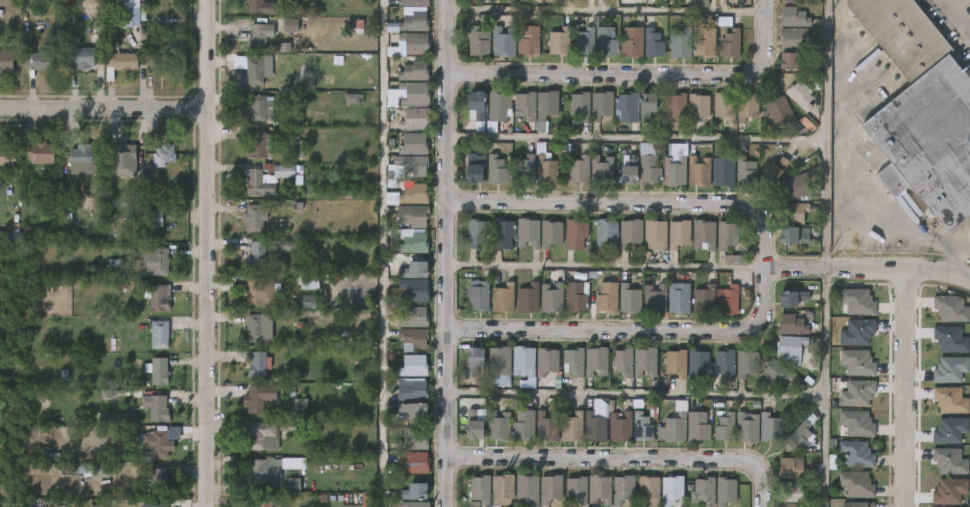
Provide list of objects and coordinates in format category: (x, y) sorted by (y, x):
building: (90, 1)
building: (796, 1)
building: (415, 3)
building: (699, 3)
building: (258, 7)
road: (606, 9)
building: (128, 17)
road: (955, 17)
building: (793, 18)
building: (416, 23)
building: (290, 25)
building: (900, 33)
building: (259, 36)
building: (790, 37)
building: (588, 38)
building: (531, 39)
building: (609, 40)
building: (481, 41)
building: (506, 41)
building: (563, 41)
building: (635, 41)
building: (656, 42)
building: (707, 42)
building: (733, 42)
building: (417, 43)
building: (683, 43)
building: (282, 47)
building: (164, 52)
building: (83, 57)
building: (119, 60)
building: (6, 61)
building: (44, 61)
building: (789, 61)
building: (253, 68)
building: (414, 71)
road: (639, 73)
building: (411, 94)
building: (798, 95)
building: (353, 98)
building: (524, 105)
building: (600, 105)
building: (476, 106)
building: (547, 106)
building: (579, 106)
building: (627, 106)
building: (646, 106)
building: (725, 106)
building: (746, 106)
building: (497, 107)
building: (676, 107)
building: (697, 107)
building: (260, 108)
building: (781, 112)
road: (102, 115)
building: (291, 118)
building: (414, 119)
road: (635, 138)
building: (927, 139)
building: (412, 143)
building: (258, 144)
building: (42, 151)
building: (123, 153)
building: (6, 154)
building: (165, 154)
building: (84, 159)
building: (413, 164)
building: (648, 165)
building: (674, 165)
building: (472, 168)
building: (600, 168)
building: (495, 169)
building: (578, 170)
road: (849, 170)
building: (524, 171)
building: (545, 171)
building: (698, 171)
building: (723, 171)
building: (774, 171)
building: (628, 172)
building: (745, 173)
building: (266, 177)
building: (799, 185)
building: (414, 194)
building: (969, 211)
building: (794, 213)
building: (413, 216)
building: (254, 217)
building: (154, 218)
building: (31, 232)
building: (476, 232)
building: (527, 232)
building: (576, 233)
building: (605, 233)
building: (502, 234)
building: (552, 234)
building: (630, 234)
building: (654, 235)
building: (703, 235)
building: (725, 235)
building: (794, 235)
building: (677, 237)
building: (413, 244)
road: (203, 253)
road: (383, 253)
road: (447, 253)
road: (823, 253)
building: (265, 256)
road: (951, 258)
building: (734, 259)
building: (155, 260)
road: (763, 264)
road: (605, 266)
road: (867, 270)
building: (415, 271)
building: (309, 282)
building: (414, 290)
building: (264, 291)
building: (481, 294)
building: (577, 296)
building: (506, 297)
building: (531, 297)
building: (555, 297)
building: (606, 298)
building: (157, 299)
building: (628, 299)
building: (654, 299)
building: (704, 299)
building: (792, 299)
building: (677, 300)
building: (729, 300)
building: (856, 301)
building: (951, 309)
building: (414, 317)
building: (793, 325)
building: (256, 327)
building: (857, 333)
building: (158, 334)
building: (413, 338)
building: (950, 339)
building: (790, 349)
building: (473, 361)
building: (522, 361)
building: (545, 362)
building: (572, 362)
building: (596, 362)
building: (645, 362)
building: (857, 362)
building: (622, 363)
building: (725, 363)
building: (676, 364)
building: (745, 364)
building: (257, 365)
building: (412, 365)
building: (698, 365)
building: (498, 367)
building: (950, 370)
building: (158, 372)
building: (777, 372)
road: (905, 389)
building: (415, 390)
building: (857, 393)
road: (634, 395)
building: (259, 398)
building: (950, 400)
building: (155, 406)
building: (300, 406)
building: (412, 411)
building: (114, 417)
building: (856, 422)
building: (524, 425)
building: (500, 426)
building: (546, 426)
building: (571, 426)
building: (620, 426)
building: (641, 426)
building: (473, 427)
building: (594, 427)
building: (675, 427)
building: (697, 427)
building: (725, 427)
building: (746, 427)
building: (770, 428)
building: (949, 430)
building: (270, 434)
building: (799, 438)
building: (413, 439)
building: (158, 444)
building: (856, 452)
building: (52, 458)
road: (622, 461)
building: (949, 461)
building: (413, 462)
building: (792, 467)
building: (83, 468)
building: (268, 477)
building: (159, 481)
building: (856, 484)
building: (501, 487)
building: (550, 487)
building: (526, 488)
building: (576, 488)
building: (622, 488)
building: (480, 489)
building: (599, 489)
building: (648, 489)
building: (671, 489)
building: (725, 490)
building: (415, 491)
building: (703, 491)
building: (791, 491)
building: (949, 491)
building: (254, 502)
building: (858, 503)
building: (151, 504)
building: (414, 504)
building: (792, 505)
building: (97, 506)

